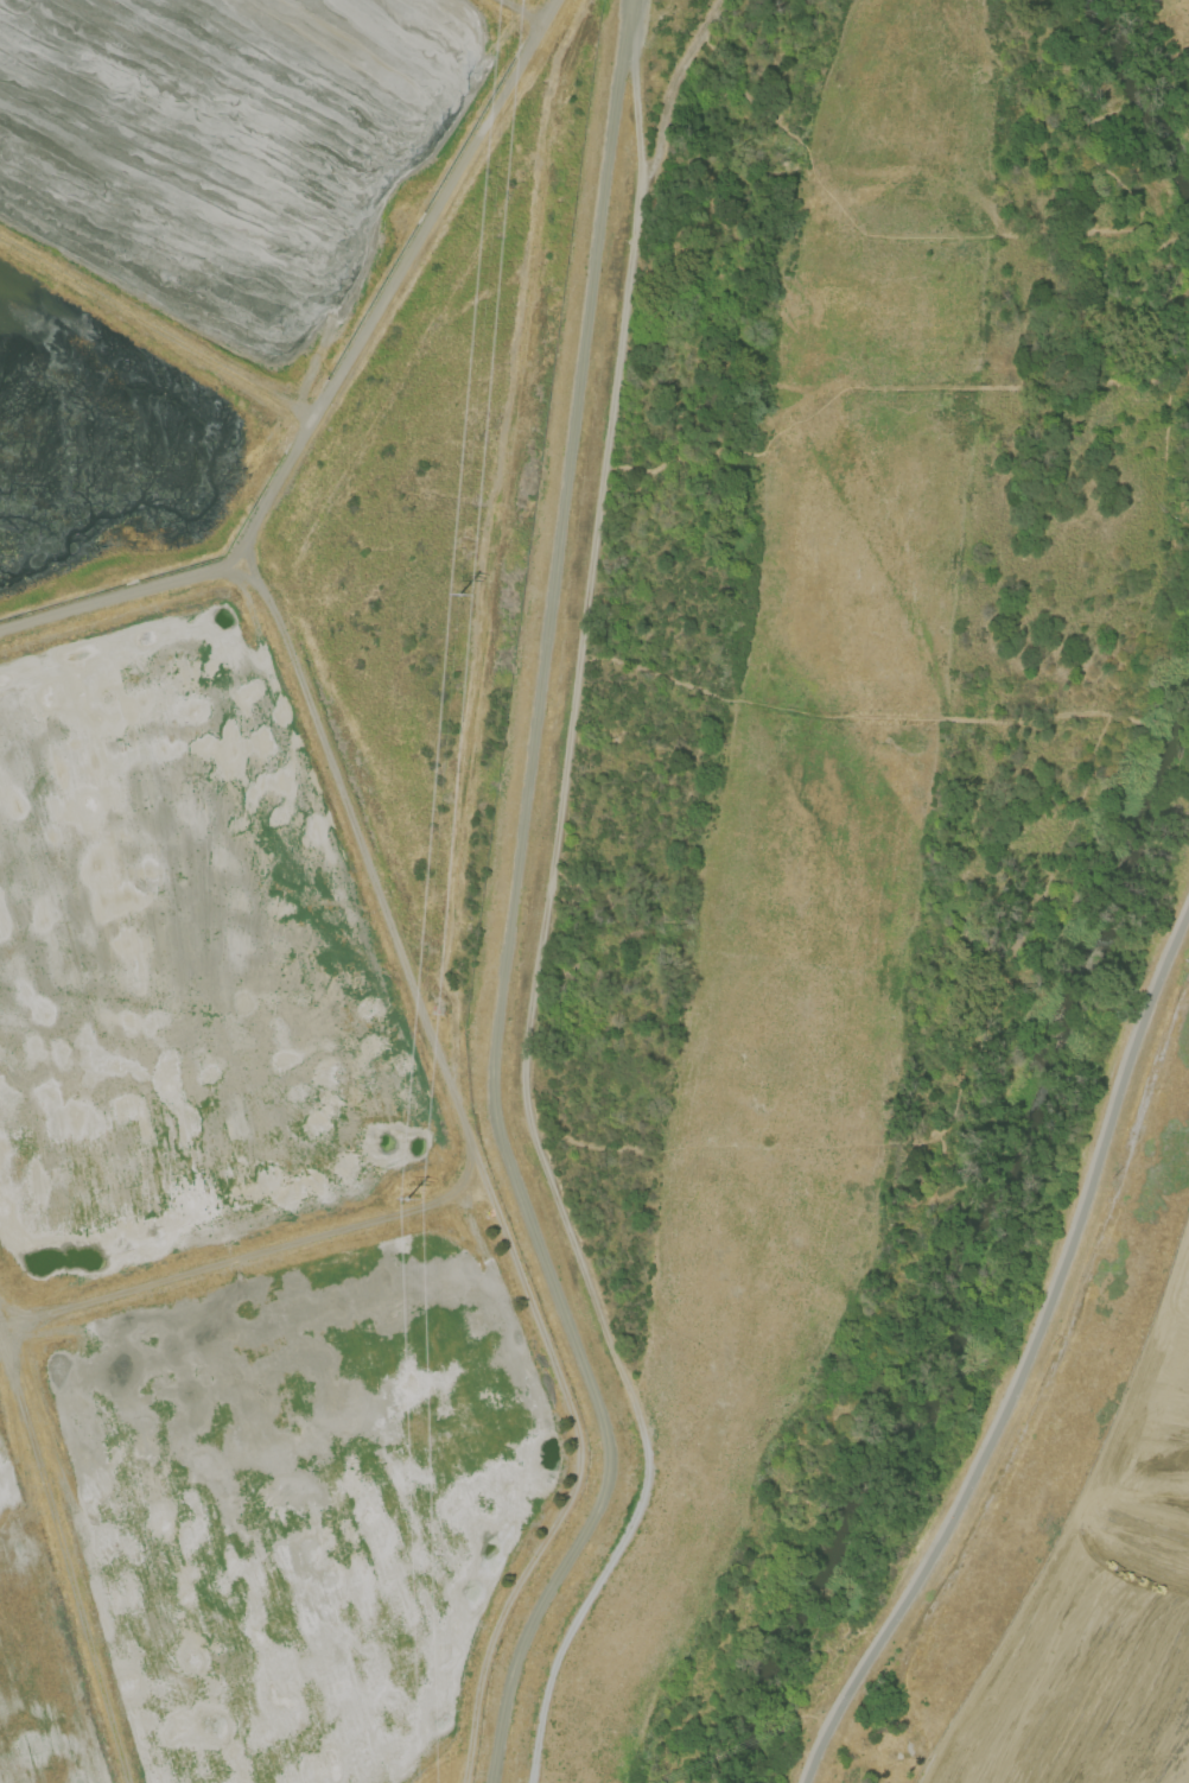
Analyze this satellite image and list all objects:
river: (1142, 88)
power tower: (457, 594)
road: (547, 902)
building: (435, 1009)
power tower: (405, 1197)
river: (973, 1259)
road: (1031, 1364)
road: (1117, 1585)
road: (1161, 1662)
road: (965, 1721)
road: (1011, 1724)
road: (1128, 1738)
road: (1068, 1776)

